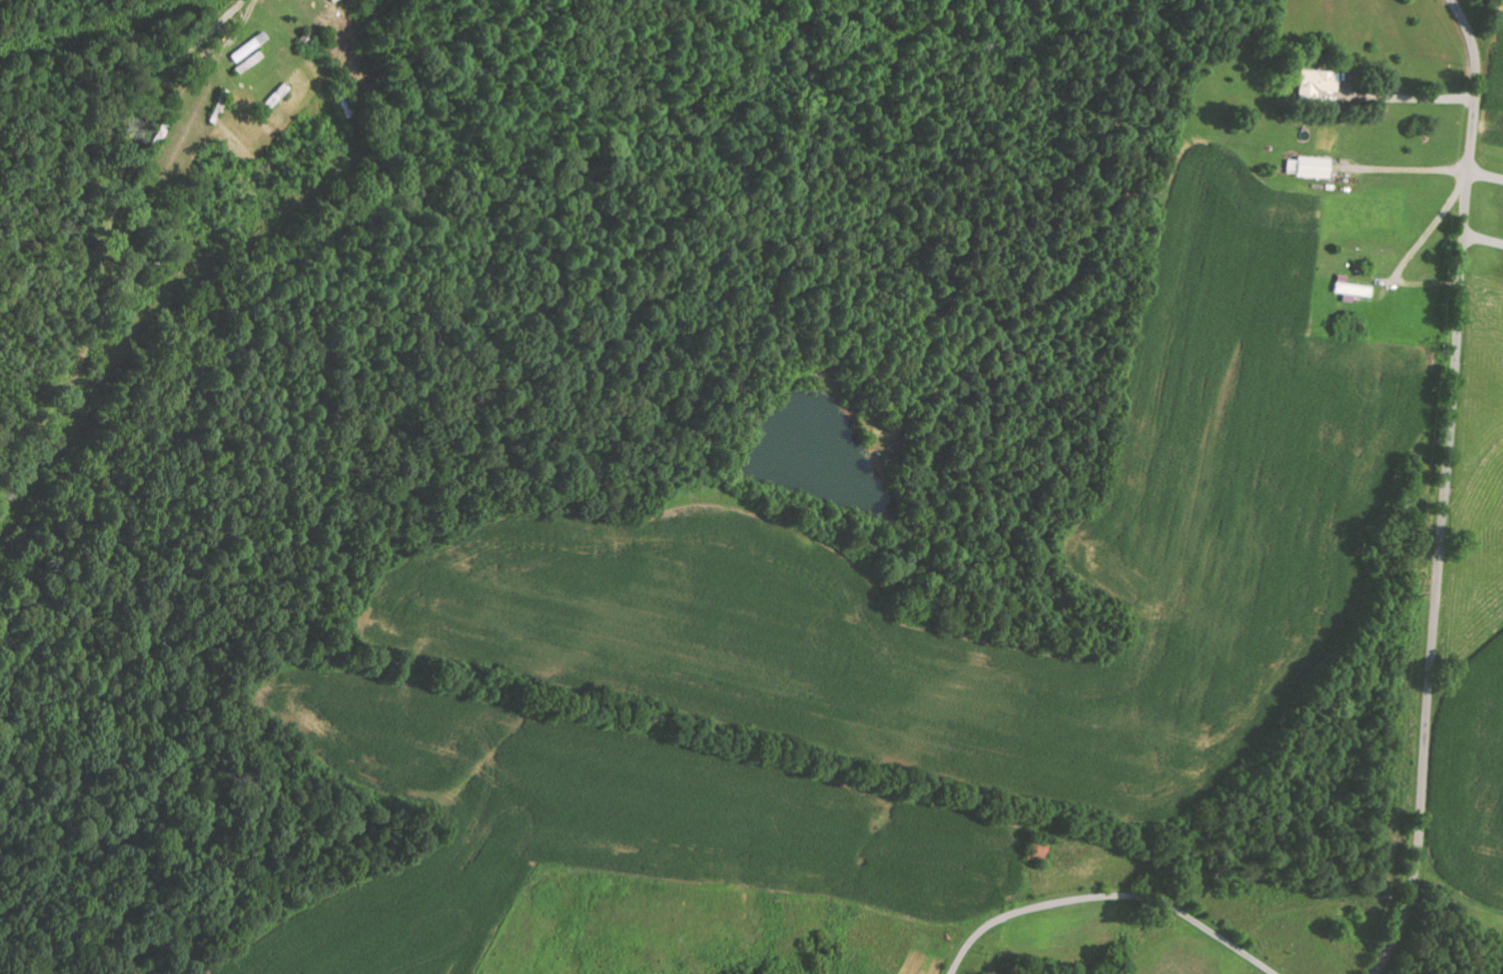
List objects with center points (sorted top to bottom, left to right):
road: (285, 105)
building: (1306, 167)
building: (1348, 288)
road: (1446, 488)
building: (1035, 852)

